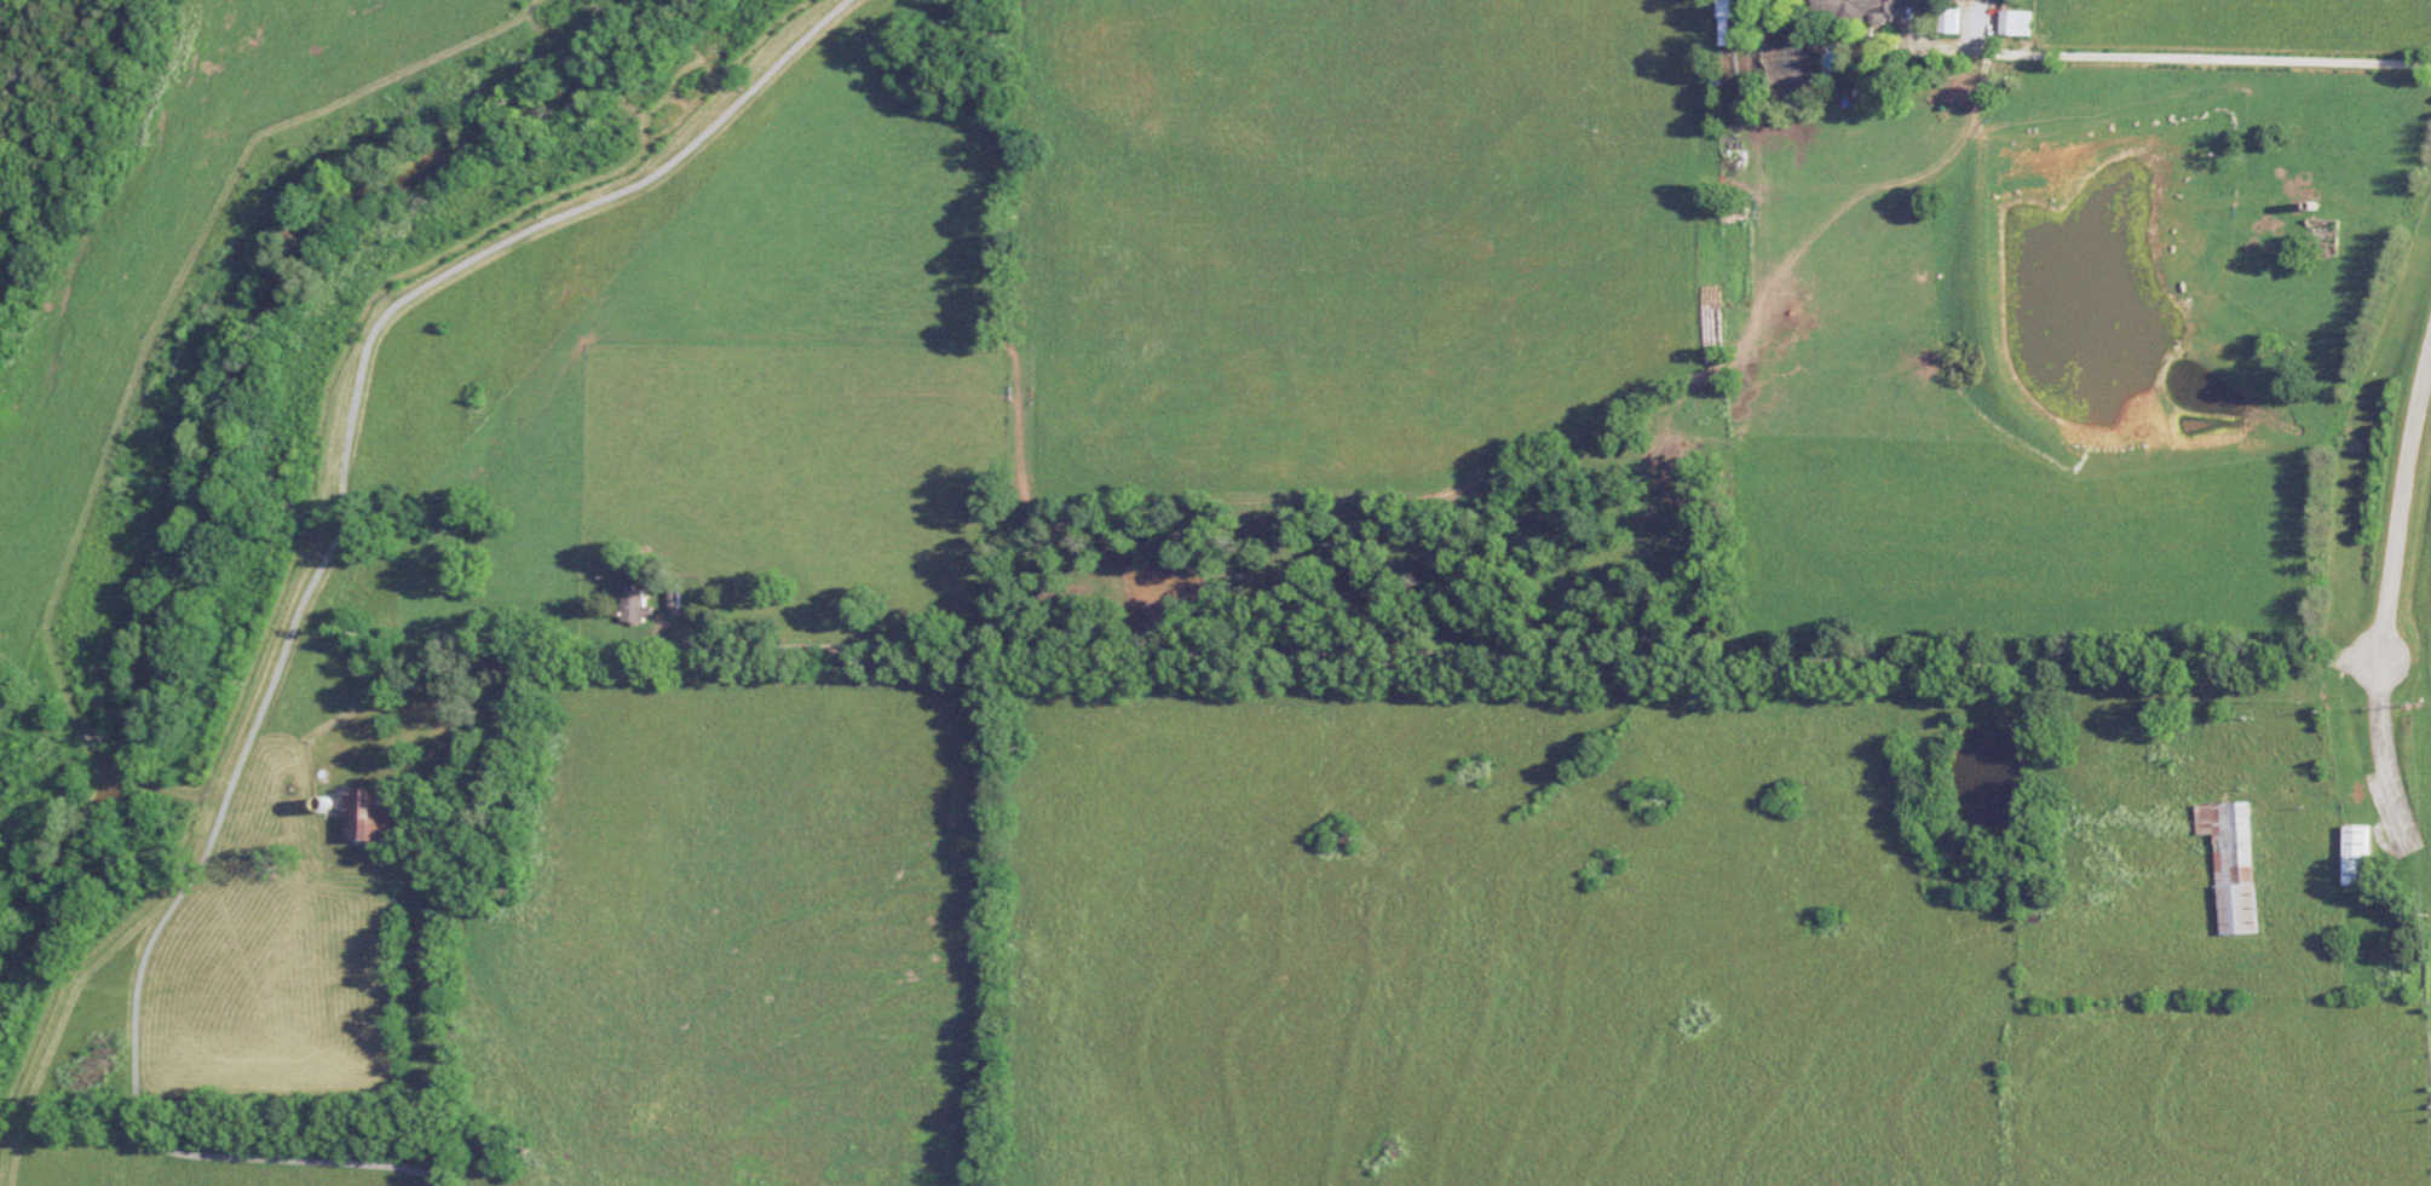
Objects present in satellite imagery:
building: (1860, 8)
building: (1726, 12)
building: (1947, 21)
building: (2015, 22)
road: (2199, 56)
crop: (1355, 234)
river: (236, 379)
road: (2403, 509)
building: (633, 604)
road: (303, 610)
road: (1470, 652)
road: (2384, 755)
building: (368, 813)
building: (2356, 854)
building: (2231, 862)

